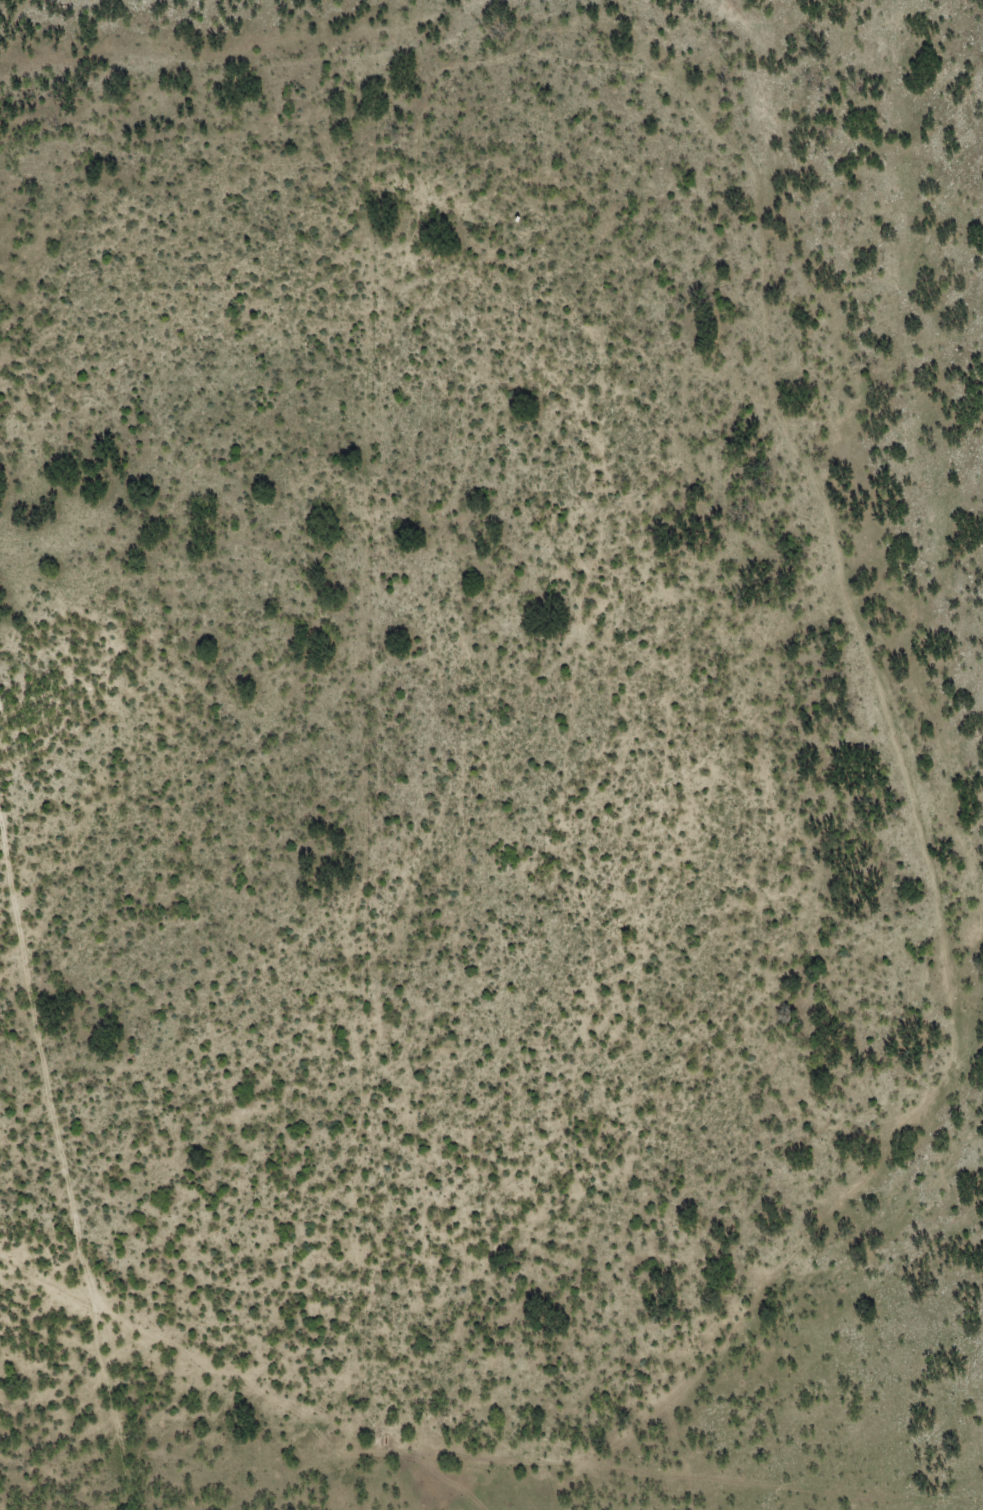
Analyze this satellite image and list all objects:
road: (89, 1106)

